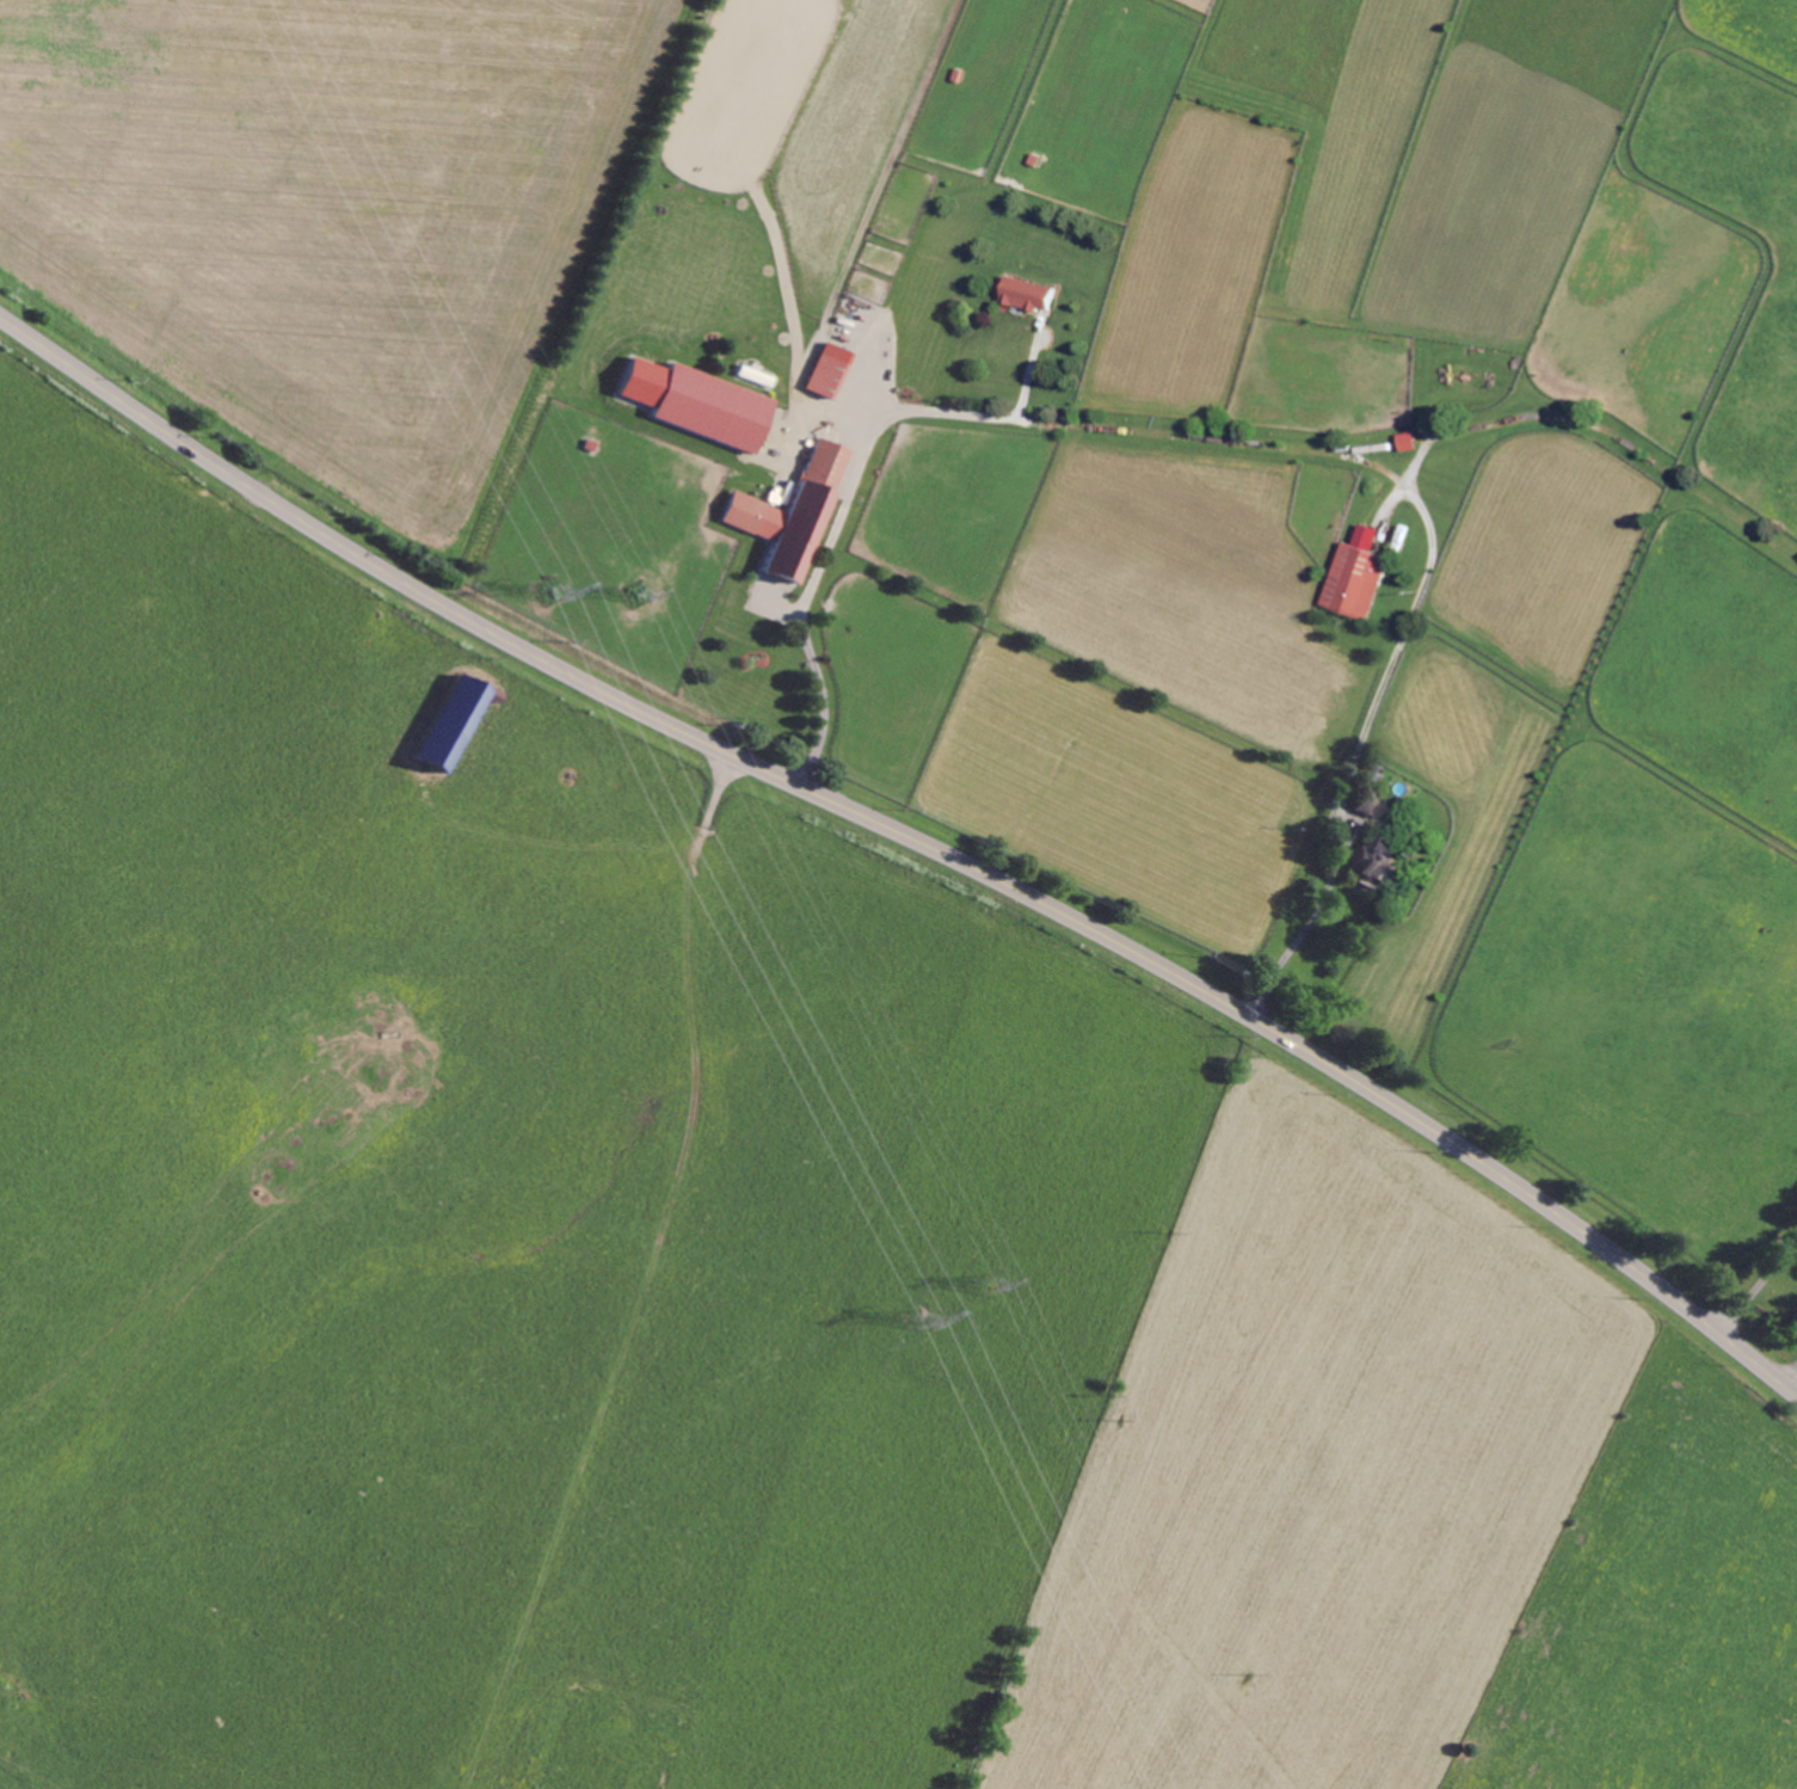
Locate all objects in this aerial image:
building: (1032, 294)
building: (831, 370)
building: (702, 402)
building: (1410, 441)
road: (850, 493)
building: (795, 514)
building: (1360, 582)
power tower: (556, 588)
power tower: (642, 598)
building: (454, 720)
road: (1356, 752)
road: (910, 836)
building: (1378, 850)
power tower: (992, 1285)
road: (1756, 1285)
power tower: (928, 1316)
road: (1790, 1377)

